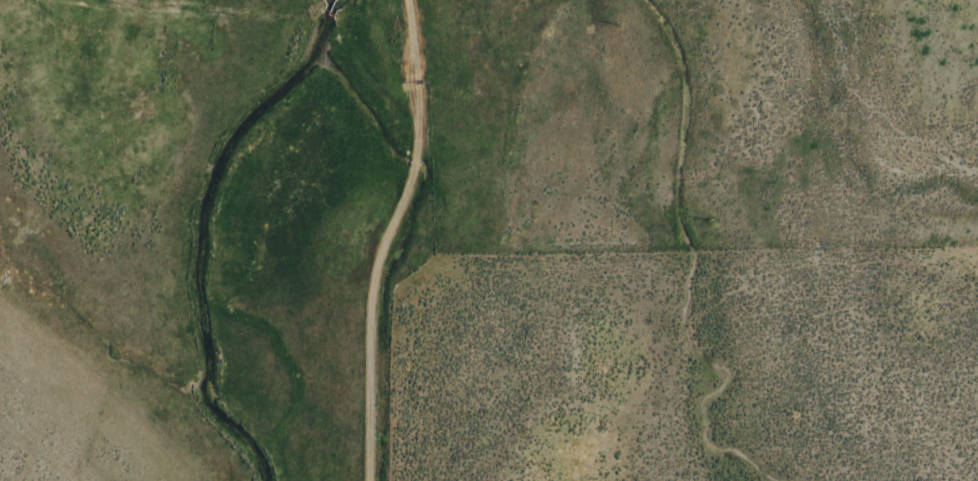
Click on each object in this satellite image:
road: (413, 158)
crop: (489, 240)
road: (372, 396)

